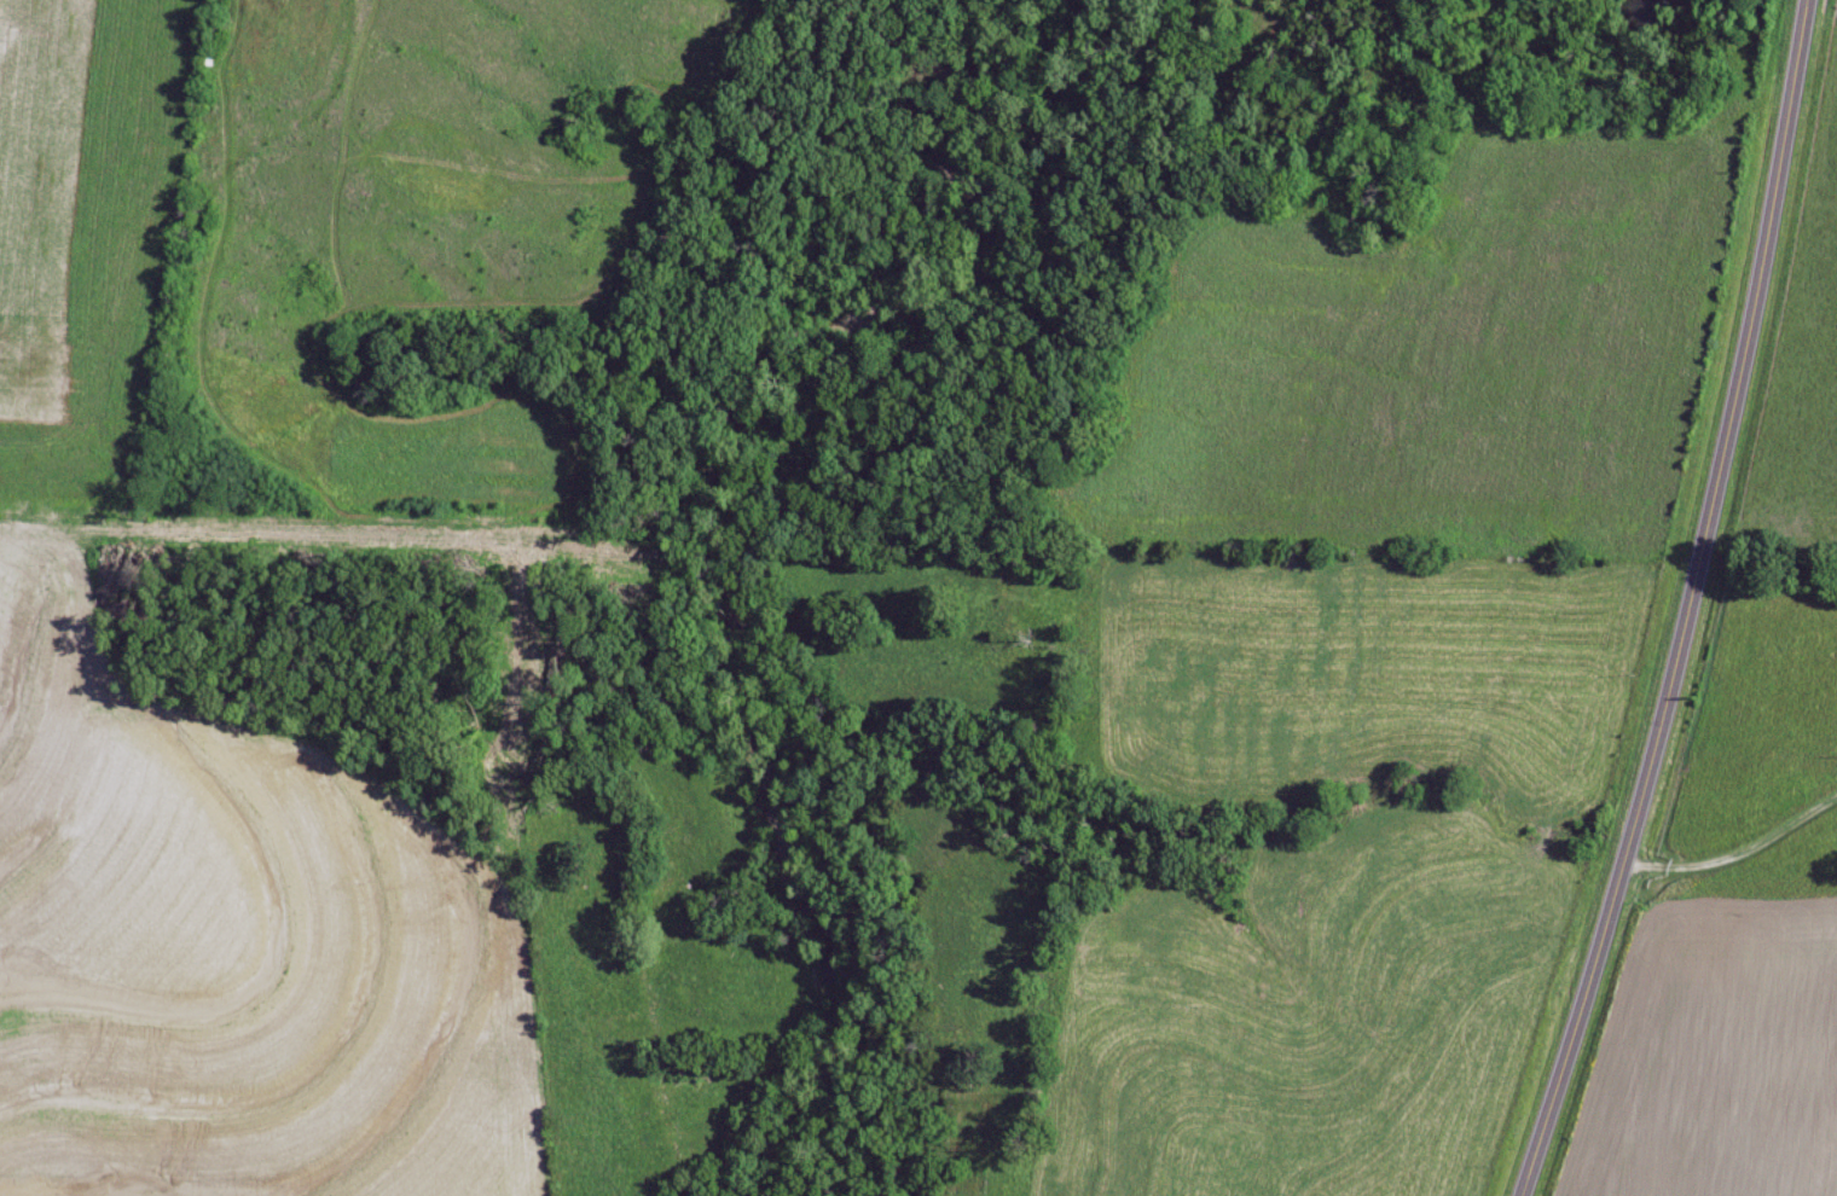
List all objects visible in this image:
road: (1686, 604)
road: (1735, 857)

